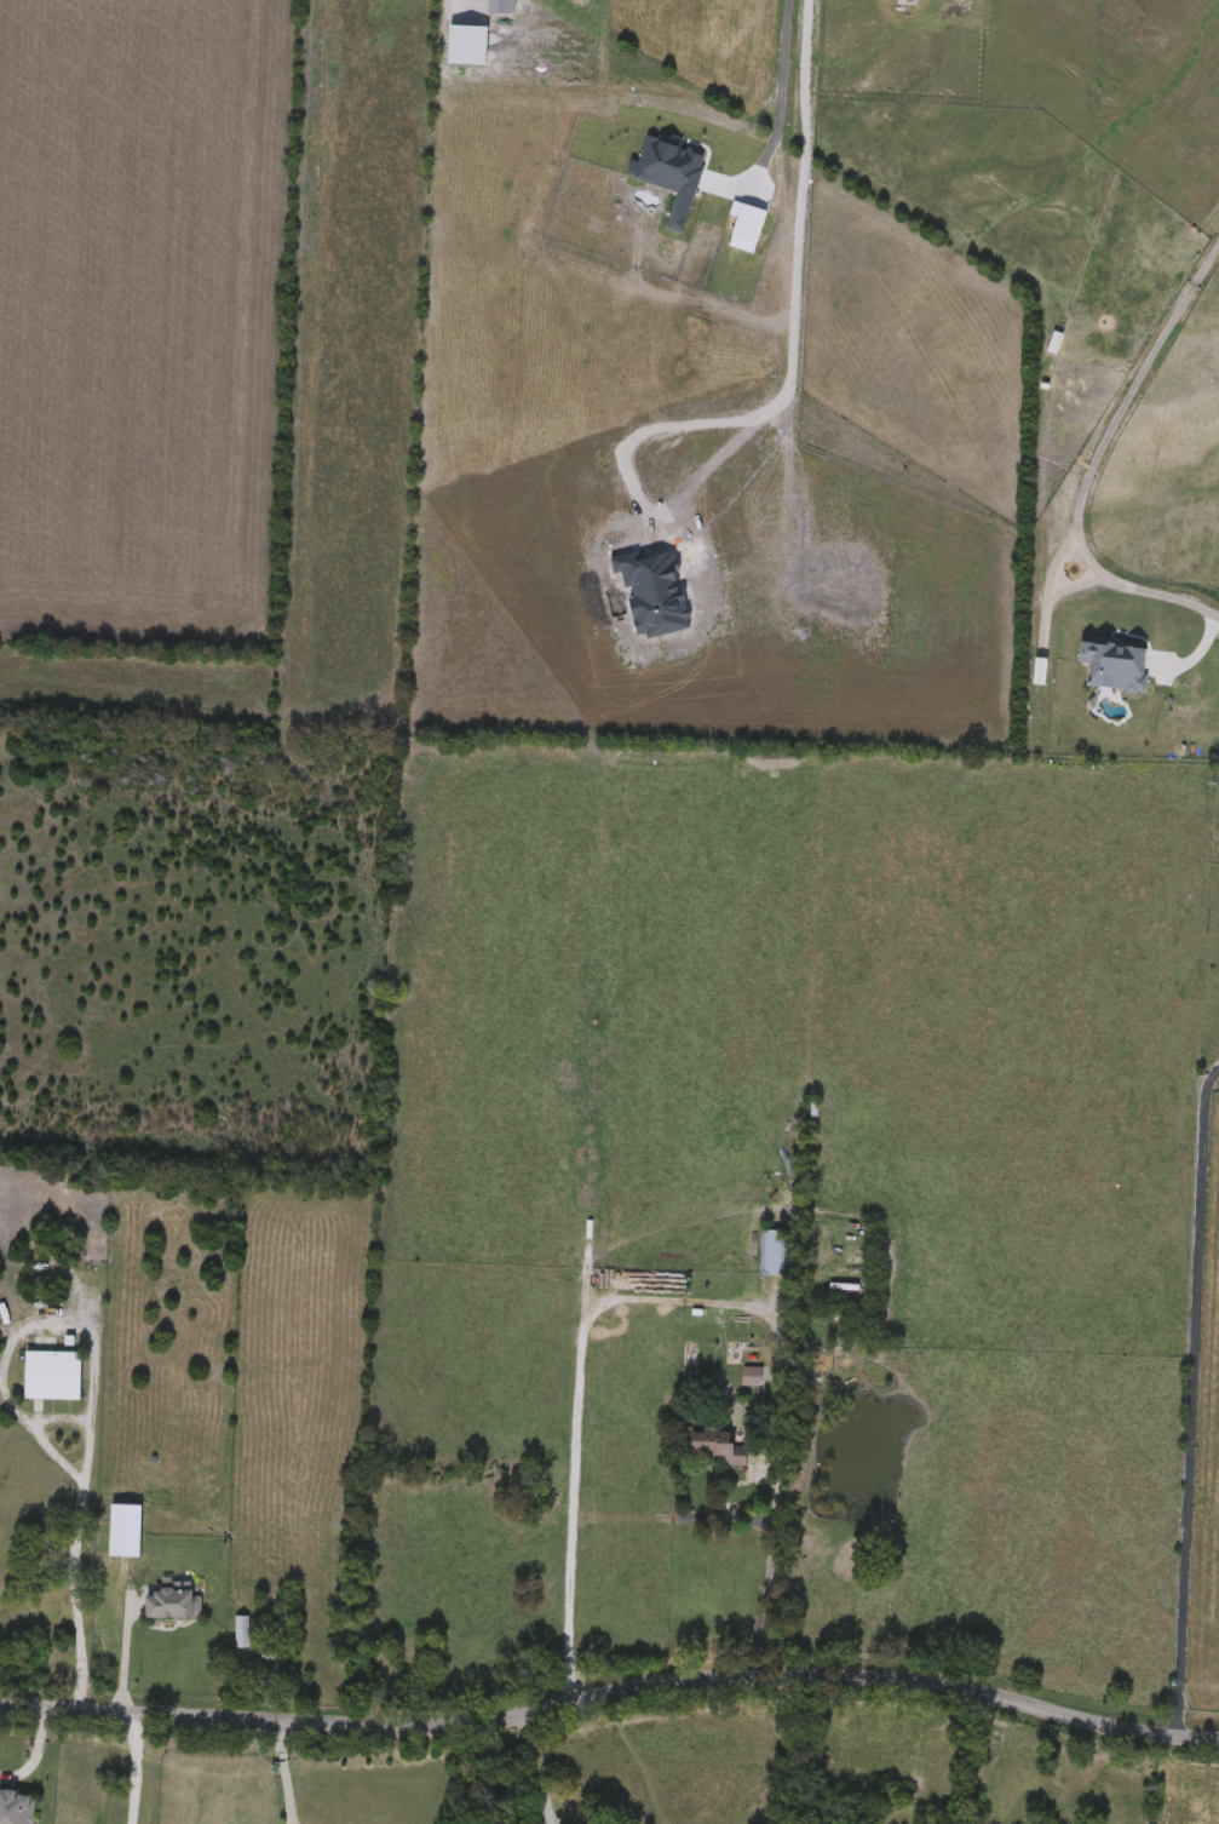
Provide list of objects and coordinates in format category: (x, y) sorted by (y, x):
road: (781, 109)
road: (789, 329)
road: (1100, 458)
building: (777, 1255)
building: (52, 1377)
building: (753, 1378)
road: (577, 1389)
road: (1194, 1399)
road: (80, 1501)
building: (116, 1560)
road: (769, 1572)
building: (172, 1606)
road: (122, 1652)
building: (251, 1656)
building: (300, 1674)
road: (610, 1691)
road: (134, 1768)
road: (535, 1769)
road: (283, 1771)
building: (16, 1809)

